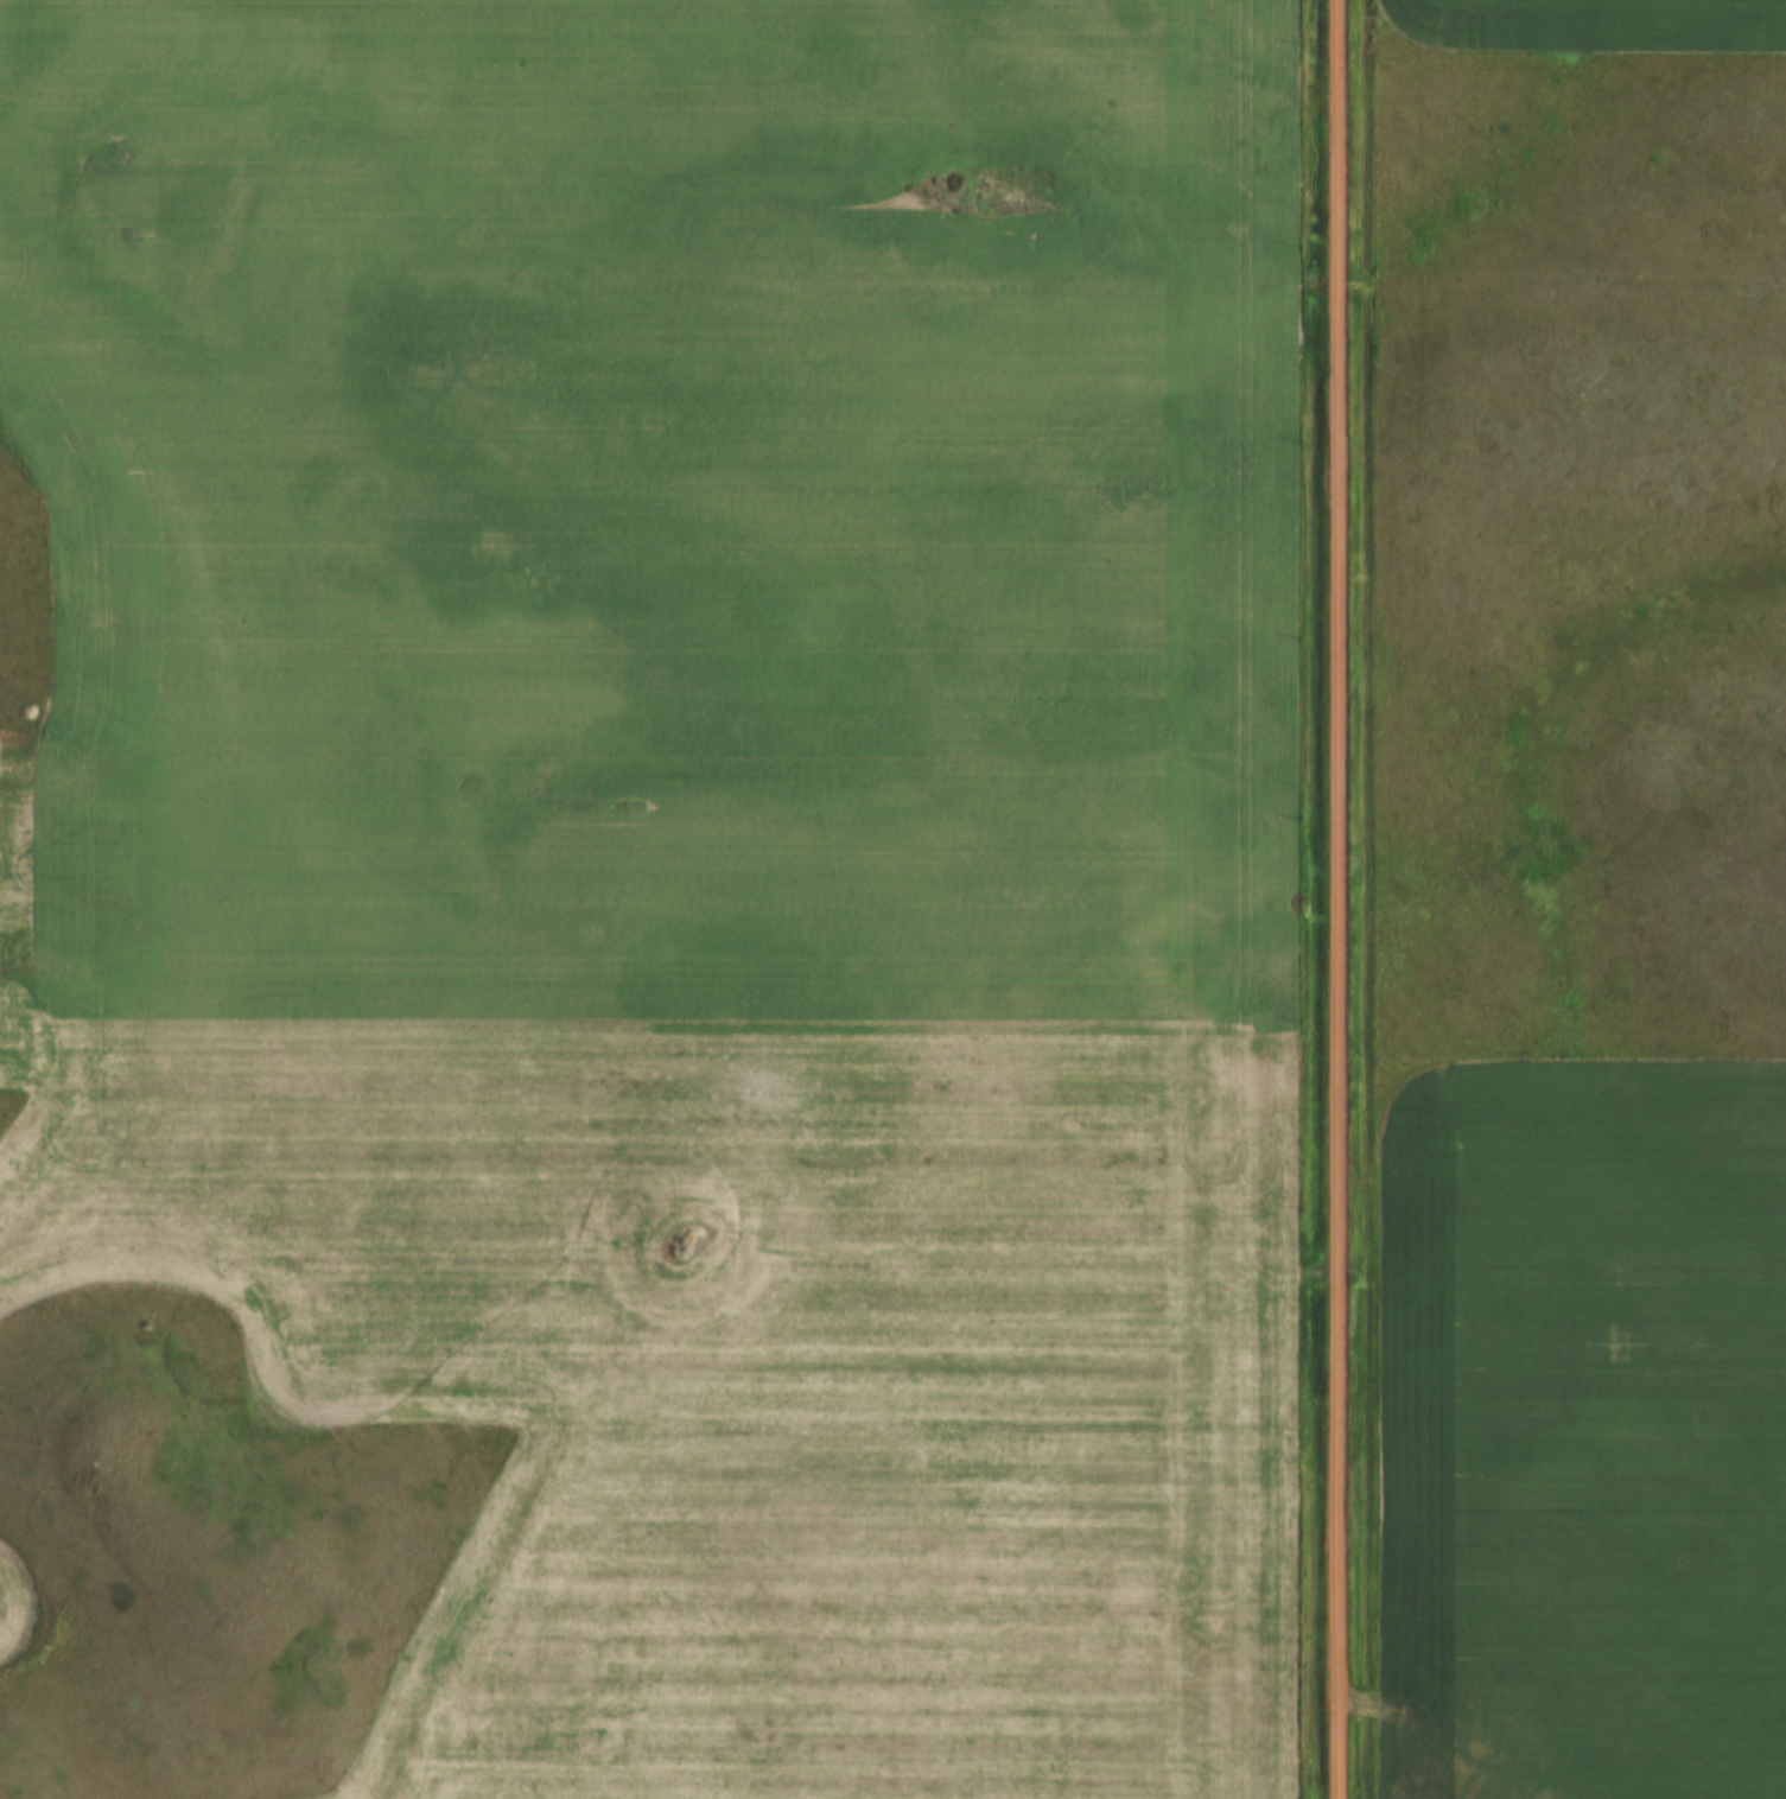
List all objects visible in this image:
road: (1336, 899)

